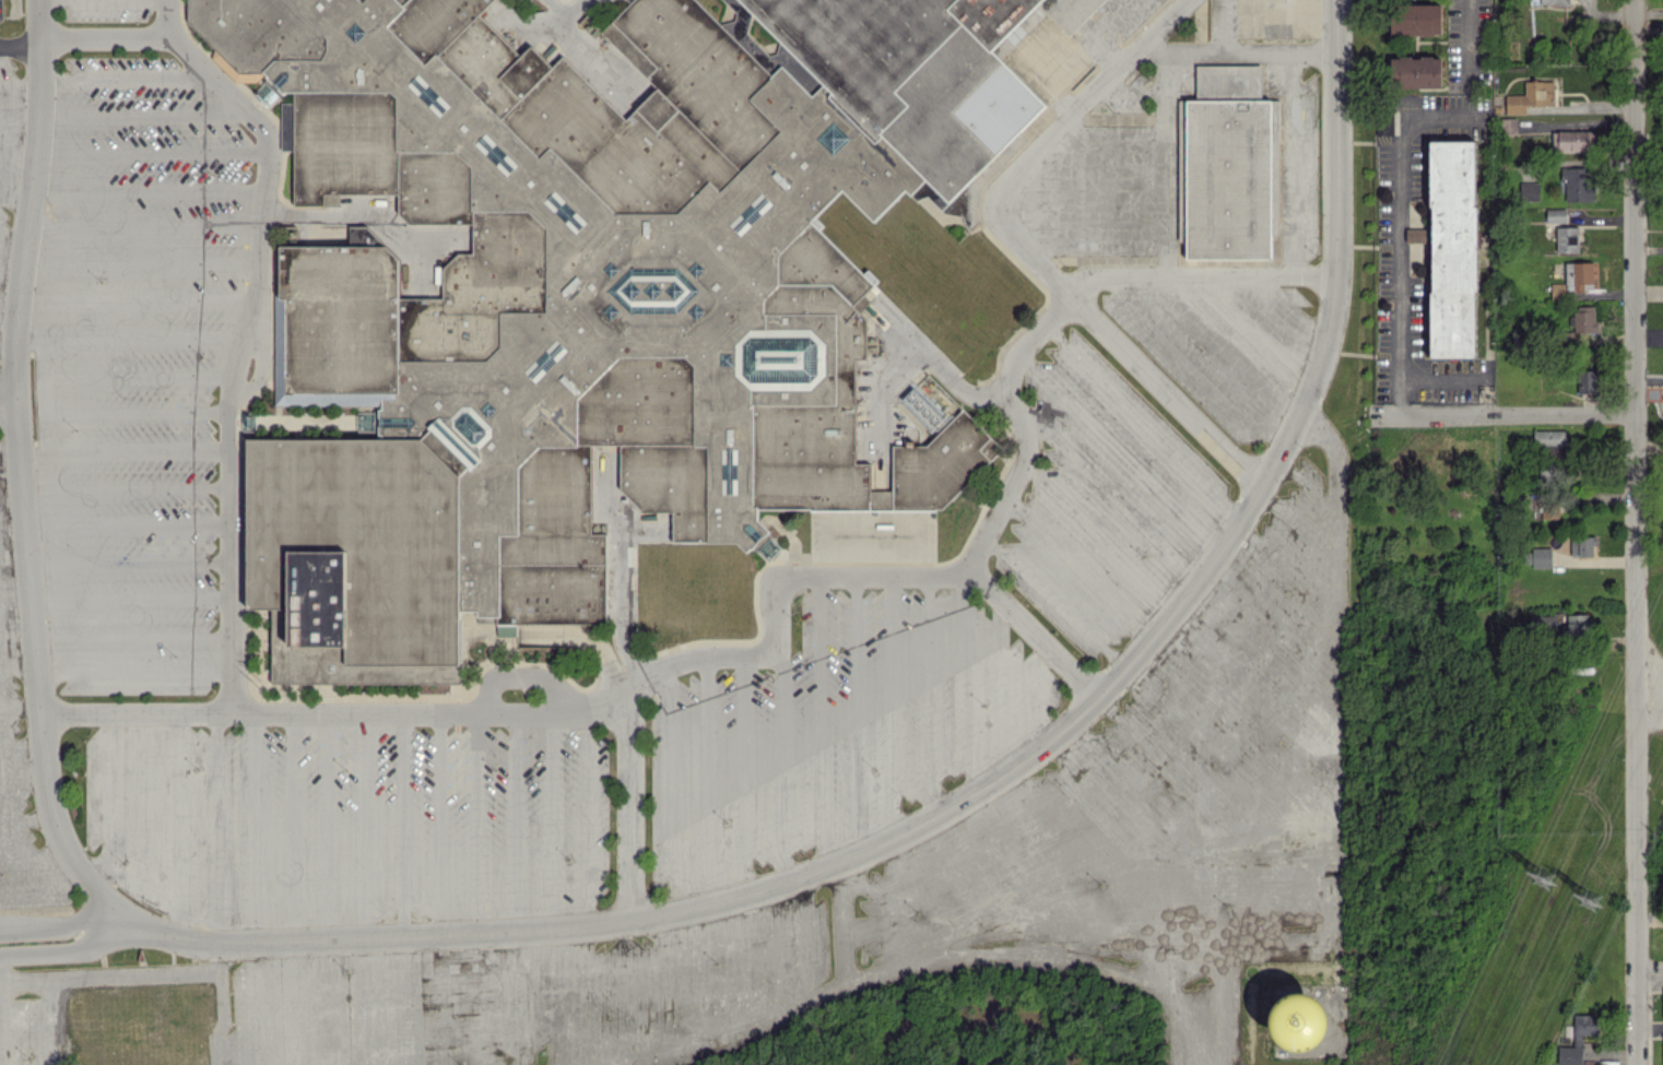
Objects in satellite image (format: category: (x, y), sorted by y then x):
road: (105, 2)
parking lot: (524, 3)
parking lot: (566, 7)
parking lot: (106, 9)
parking lot: (0, 10)
road: (567, 11)
road: (1261, 14)
building: (1416, 19)
road: (1340, 26)
road: (108, 40)
road: (1465, 43)
road: (21, 48)
road: (1237, 52)
road: (595, 60)
building: (1415, 71)
road: (126, 78)
road: (20, 85)
road: (1132, 90)
parking lot: (1286, 94)
building: (1531, 96)
road: (144, 114)
road: (1443, 114)
road: (20, 122)
road: (1109, 139)
building: (1571, 140)
parking lot: (10, 142)
road: (152, 152)
road: (17, 162)
road: (1165, 165)
building: (1228, 165)
road: (1296, 165)
parking lot: (1112, 177)
building: (1578, 182)
building: (1529, 190)
road: (148, 191)
road: (1130, 191)
road: (14, 198)
road: (1065, 205)
building: (1556, 214)
road: (370, 215)
road: (144, 226)
road: (1092, 228)
road: (12, 234)
building: (1417, 235)
building: (1567, 238)
building: (1453, 247)
road: (1029, 250)
road: (1401, 259)
road: (142, 261)
road: (418, 268)
road: (10, 270)
building: (1578, 274)
road: (1340, 277)
building: (1557, 289)
building: (598, 298)
road: (137, 299)
road: (1296, 310)
road: (8, 315)
building: (1584, 318)
road: (1265, 329)
road: (246, 336)
road: (130, 338)
parking lot: (1222, 346)
road: (1230, 347)
road: (8, 350)
road: (934, 362)
road: (1195, 365)
parking lot: (135, 368)
road: (1439, 376)
road: (140, 377)
building: (1588, 380)
road: (44, 395)
road: (8, 399)
road: (139, 413)
road: (1518, 415)
road: (883, 421)
road: (1144, 422)
building: (1549, 436)
road: (9, 446)
road: (126, 450)
road: (1121, 451)
building: (943, 465)
road: (10, 471)
road: (22, 485)
road: (128, 487)
road: (1106, 488)
parking lot: (1102, 499)
building: (1549, 510)
road: (12, 512)
road: (129, 524)
road: (642, 528)
road: (1636, 532)
building: (870, 536)
road: (1101, 539)
building: (1582, 544)
road: (13, 551)
building: (1542, 556)
road: (131, 561)
road: (618, 563)
road: (1080, 570)
road: (15, 590)
road: (778, 599)
road: (132, 600)
road: (1059, 602)
building: (1543, 623)
building: (1578, 623)
road: (16, 628)
road: (1034, 631)
road: (586, 636)
road: (134, 638)
road: (17, 667)
road: (135, 671)
road: (521, 676)
road: (968, 685)
road: (1001, 686)
road: (1041, 693)
road: (931, 699)
road: (20, 708)
road: (893, 708)
road: (858, 715)
road: (821, 723)
parking lot: (835, 730)
road: (21, 744)
road: (781, 761)
parking lot: (19, 762)
road: (744, 777)
road: (23, 781)
road: (708, 782)
road: (671, 791)
road: (108, 802)
road: (143, 803)
road: (632, 804)
road: (26, 817)
road: (588, 817)
parking lot: (349, 821)
road: (551, 823)
road: (515, 824)
road: (477, 825)
road: (179, 826)
road: (403, 826)
road: (439, 826)
road: (366, 827)
road: (329, 828)
road: (292, 829)
road: (217, 830)
road: (255, 830)
road: (34, 855)
power tower: (1543, 879)
road: (44, 883)
road: (781, 884)
road: (140, 889)
power tower: (1594, 900)
road: (74, 925)
road: (75, 948)
road: (109, 973)
road: (1650, 980)
road: (0, 996)
road: (222, 1006)
road: (1, 1009)
road: (51, 1021)
river: (981, 1021)
water tower: (1285, 1027)
parking lot: (31, 1031)
building: (1578, 1038)

